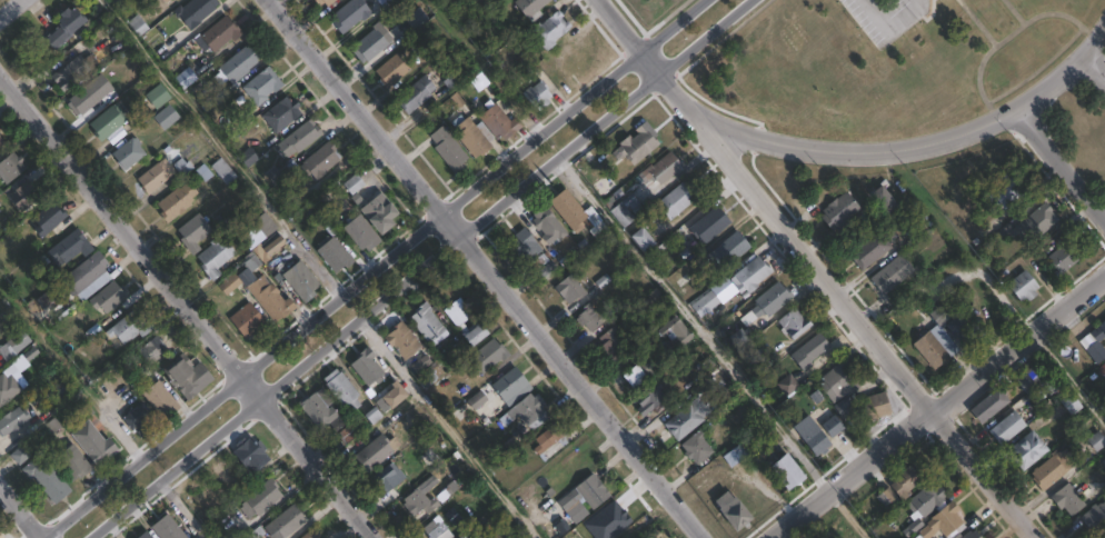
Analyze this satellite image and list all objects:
building: (165, 1)
building: (322, 2)
building: (529, 8)
building: (193, 11)
road: (14, 12)
building: (348, 14)
building: (415, 18)
building: (137, 24)
building: (62, 28)
building: (548, 29)
building: (219, 32)
building: (370, 43)
park: (879, 62)
building: (238, 63)
road: (1094, 69)
building: (390, 70)
building: (63, 76)
building: (185, 78)
building: (260, 83)
building: (415, 94)
building: (536, 94)
building: (156, 96)
building: (84, 97)
building: (280, 113)
building: (165, 117)
building: (107, 121)
building: (498, 122)
park: (1081, 134)
building: (472, 137)
building: (298, 138)
building: (1, 141)
road: (917, 141)
building: (635, 145)
road: (220, 147)
road: (522, 148)
building: (448, 150)
building: (127, 152)
building: (318, 160)
building: (9, 167)
road: (1057, 167)
building: (661, 168)
building: (222, 171)
building: (277, 173)
building: (153, 176)
building: (352, 185)
building: (604, 188)
building: (1007, 188)
building: (19, 197)
building: (678, 198)
building: (883, 199)
building: (175, 201)
building: (625, 209)
building: (379, 210)
building: (838, 212)
building: (577, 215)
building: (46, 219)
building: (1036, 222)
building: (263, 225)
building: (708, 225)
building: (546, 226)
building: (191, 232)
building: (359, 233)
building: (640, 239)
building: (525, 246)
building: (68, 247)
building: (267, 248)
building: (728, 249)
building: (573, 250)
building: (869, 250)
building: (332, 255)
building: (213, 257)
building: (1064, 257)
building: (540, 265)
road: (488, 268)
road: (815, 269)
road: (425, 270)
building: (890, 273)
building: (750, 275)
building: (86, 277)
building: (678, 279)
building: (299, 281)
building: (229, 285)
building: (1023, 285)
building: (570, 288)
building: (713, 297)
building: (107, 298)
building: (269, 299)
road: (1003, 299)
building: (767, 302)
road: (189, 309)
building: (459, 316)
building: (588, 318)
building: (247, 321)
building: (425, 322)
building: (794, 323)
road: (694, 326)
building: (963, 326)
building: (129, 327)
building: (474, 335)
building: (1, 338)
building: (737, 339)
building: (400, 340)
building: (935, 341)
building: (1097, 342)
building: (614, 343)
building: (12, 346)
building: (664, 347)
building: (460, 349)
building: (151, 350)
building: (809, 351)
building: (487, 356)
building: (766, 356)
building: (366, 367)
building: (1102, 369)
building: (186, 377)
building: (633, 377)
road: (1067, 378)
building: (840, 381)
building: (1026, 381)
building: (510, 385)
building: (788, 386)
building: (8, 389)
building: (340, 389)
building: (392, 396)
building: (649, 398)
building: (159, 400)
building: (1071, 403)
road: (938, 405)
building: (989, 405)
building: (875, 406)
building: (843, 407)
building: (524, 410)
building: (319, 411)
road: (189, 416)
building: (686, 418)
building: (139, 420)
building: (11, 421)
building: (832, 427)
building: (1007, 428)
road: (446, 429)
building: (810, 436)
building: (341, 437)
building: (550, 440)
building: (1096, 441)
building: (91, 444)
building: (696, 449)
building: (1027, 450)
building: (375, 452)
building: (20, 454)
building: (248, 455)
building: (735, 456)
building: (71, 462)
building: (1053, 469)
building: (786, 472)
building: (44, 476)
building: (387, 477)
building: (907, 479)
building: (591, 491)
building: (258, 500)
building: (1067, 500)
building: (418, 501)
building: (925, 501)
building: (577, 511)
building: (730, 511)
road: (20, 512)
building: (605, 514)
road: (847, 515)
building: (1094, 518)
building: (285, 522)
building: (943, 524)
building: (166, 528)
building: (437, 529)
building: (611, 531)
building: (310, 534)
building: (970, 535)
building: (142, 536)

